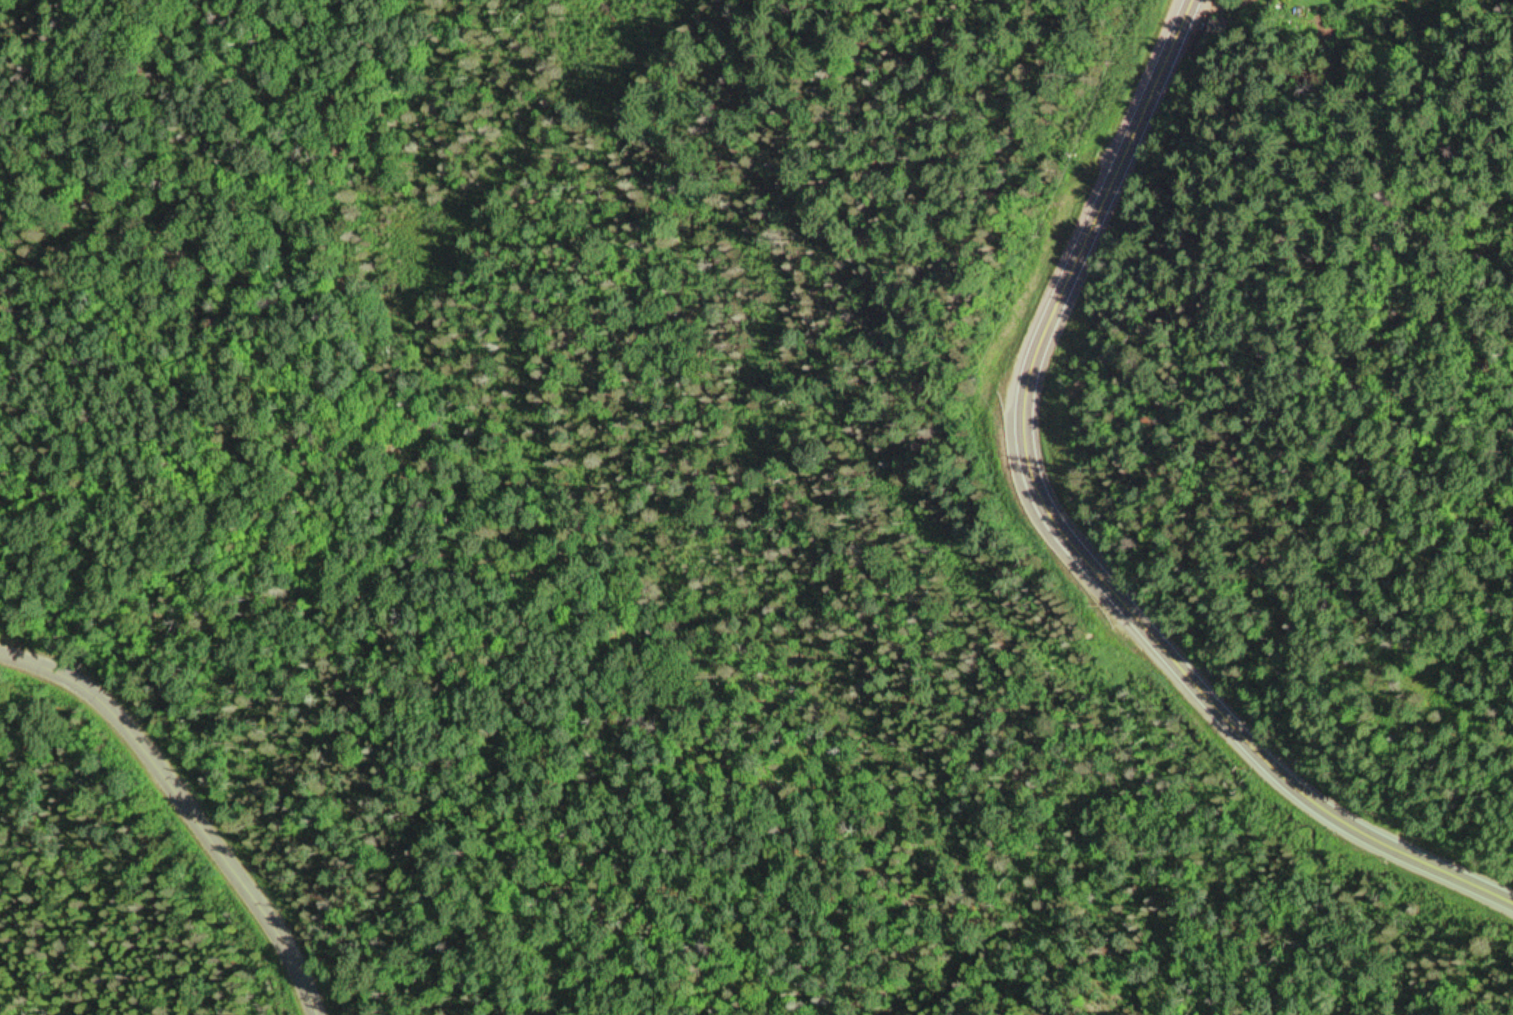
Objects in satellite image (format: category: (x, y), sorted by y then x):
road: (1067, 540)
road: (188, 805)

